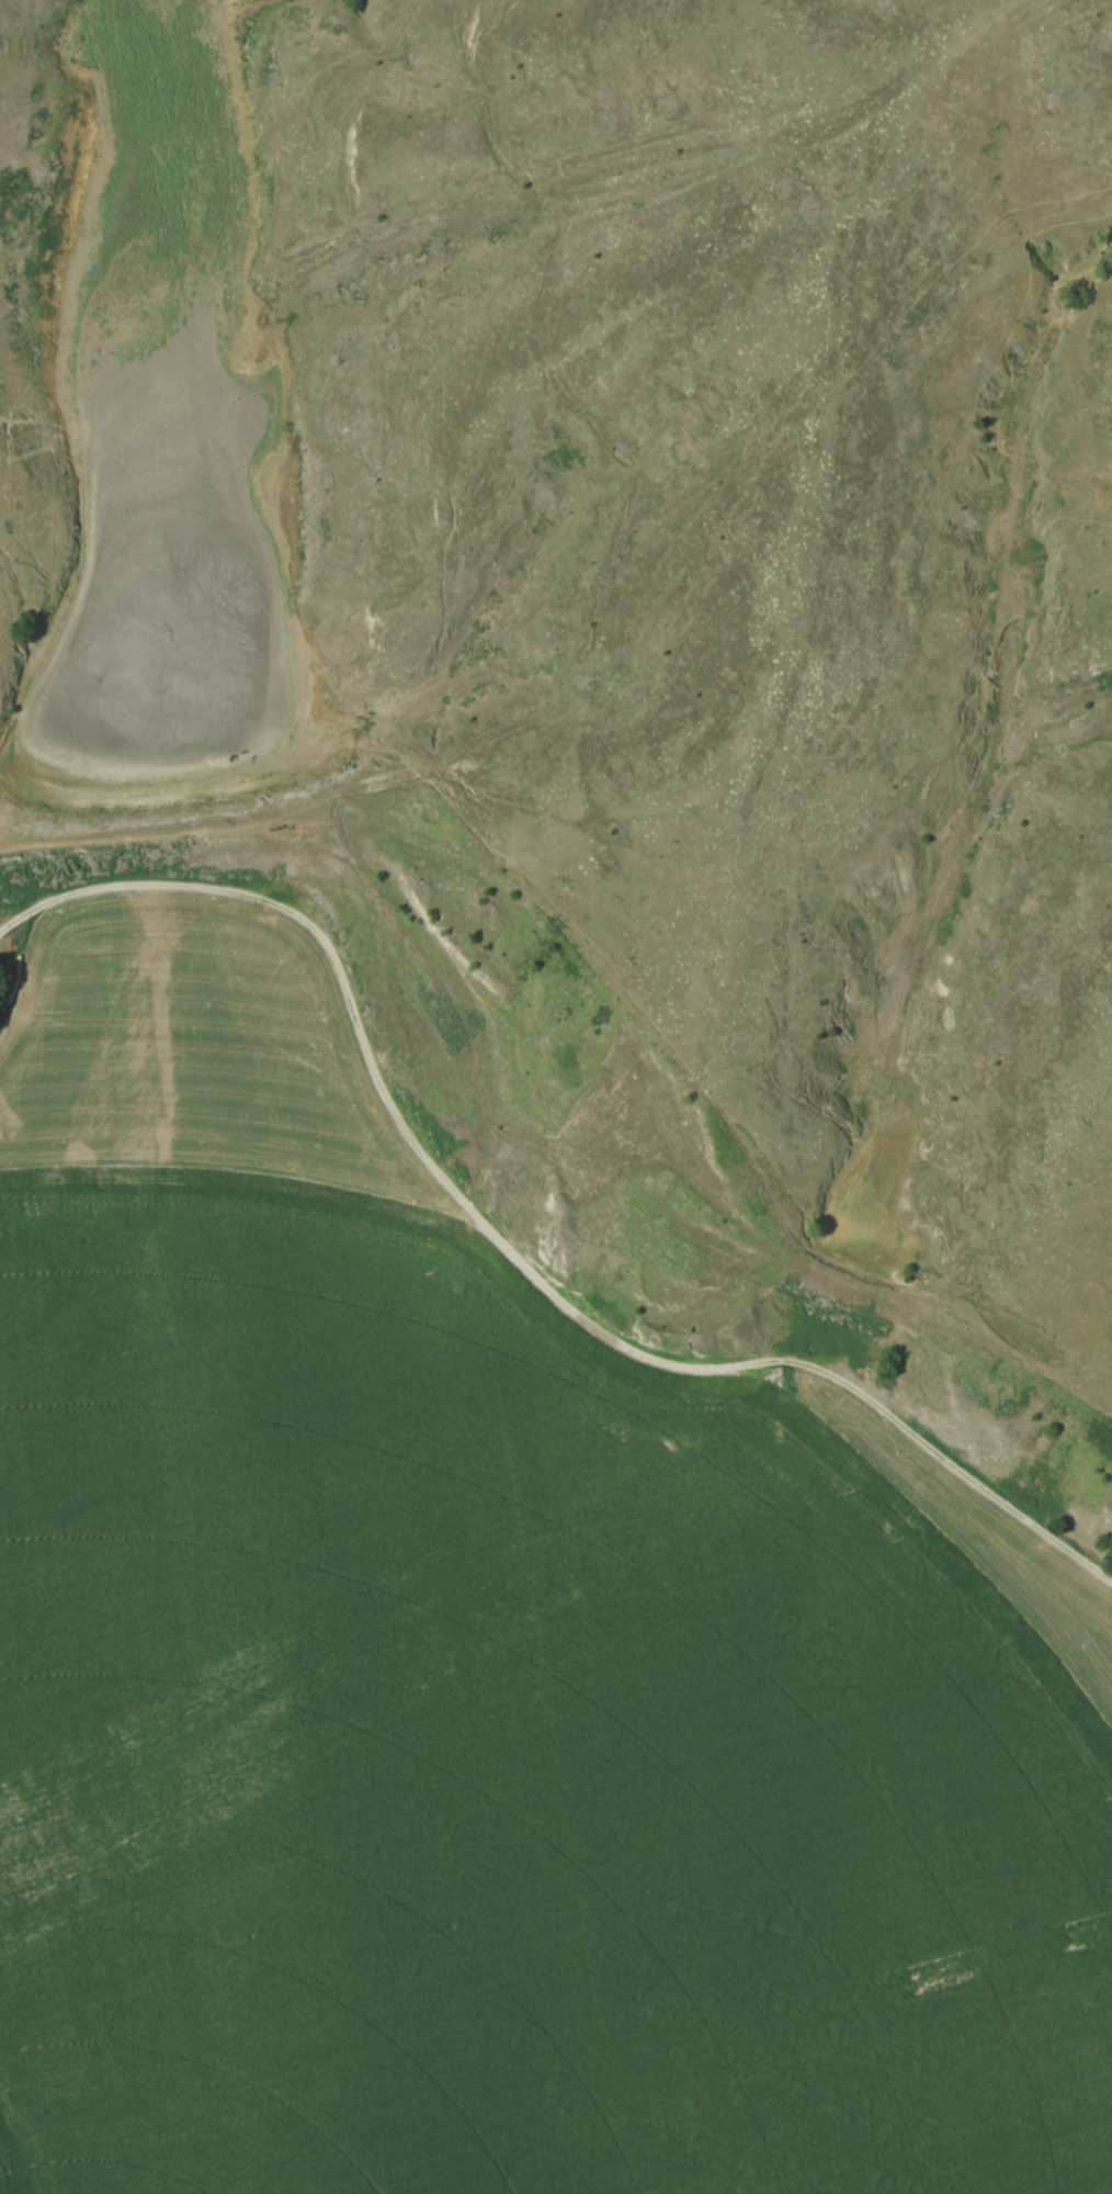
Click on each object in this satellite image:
crop: (977, 1533)
crop: (499, 1748)

